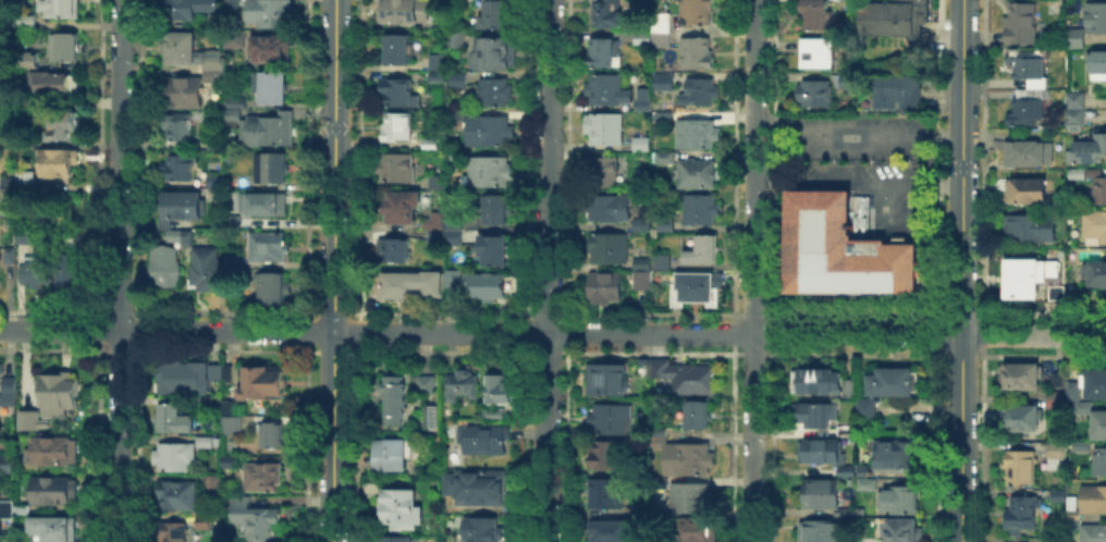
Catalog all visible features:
building: (848, 0)
building: (453, 1)
building: (62, 9)
building: (193, 9)
building: (695, 11)
building: (408, 12)
building: (271, 13)
building: (605, 13)
building: (819, 14)
building: (1094, 15)
building: (495, 16)
building: (888, 16)
building: (28, 20)
building: (660, 21)
building: (1021, 23)
building: (1073, 36)
building: (640, 37)
building: (659, 38)
building: (236, 41)
building: (455, 42)
building: (66, 49)
building: (600, 50)
building: (693, 50)
building: (183, 51)
building: (271, 51)
building: (402, 52)
building: (810, 52)
building: (497, 56)
building: (439, 63)
building: (1096, 63)
building: (1027, 65)
building: (212, 67)
building: (661, 74)
building: (438, 78)
building: (460, 81)
building: (850, 83)
building: (1, 84)
building: (56, 85)
building: (604, 87)
building: (271, 88)
building: (697, 90)
building: (900, 91)
building: (186, 94)
building: (398, 94)
building: (496, 94)
building: (809, 95)
building: (1073, 98)
building: (638, 99)
building: (237, 101)
road: (1102, 101)
building: (1024, 106)
building: (233, 112)
road: (1102, 114)
building: (660, 115)
building: (463, 118)
building: (1073, 118)
building: (232, 123)
road: (843, 123)
building: (602, 126)
building: (182, 128)
building: (272, 128)
building: (400, 128)
building: (63, 130)
building: (693, 132)
building: (490, 133)
road: (945, 137)
building: (639, 143)
building: (217, 145)
building: (1090, 146)
building: (432, 148)
building: (1024, 150)
building: (455, 156)
building: (662, 156)
building: (67, 167)
building: (397, 168)
building: (600, 168)
building: (183, 170)
building: (274, 171)
building: (693, 172)
building: (1077, 172)
building: (491, 173)
building: (33, 180)
building: (10, 182)
building: (218, 183)
building: (242, 185)
building: (438, 185)
building: (1025, 188)
building: (1097, 189)
building: (10, 198)
building: (266, 206)
building: (606, 207)
building: (697, 207)
building: (183, 209)
building: (405, 209)
road: (884, 210)
building: (500, 211)
building: (640, 222)
building: (663, 223)
building: (1095, 223)
building: (1031, 226)
building: (444, 232)
building: (652, 232)
building: (180, 238)
building: (28, 239)
building: (607, 246)
building: (702, 248)
building: (271, 249)
building: (834, 250)
building: (398, 252)
building: (9, 254)
building: (494, 254)
building: (14, 258)
building: (234, 260)
building: (660, 260)
building: (640, 262)
building: (73, 270)
road: (120, 270)
building: (207, 270)
road: (546, 270)
road: (962, 270)
road: (334, 271)
road: (754, 271)
building: (1094, 271)
building: (165, 272)
building: (40, 274)
building: (1025, 274)
building: (450, 276)
building: (640, 279)
building: (602, 285)
building: (696, 286)
building: (488, 287)
building: (275, 290)
building: (404, 290)
building: (1056, 292)
road: (481, 332)
road: (1034, 336)
building: (0, 367)
building: (661, 369)
building: (213, 370)
building: (225, 370)
building: (1019, 373)
building: (181, 374)
building: (1056, 378)
building: (815, 379)
building: (890, 379)
building: (261, 380)
building: (609, 380)
building: (695, 380)
building: (1093, 382)
building: (8, 383)
building: (847, 385)
building: (427, 386)
building: (464, 386)
building: (1071, 389)
building: (57, 392)
building: (502, 392)
building: (8, 396)
building: (1053, 397)
building: (398, 401)
building: (205, 405)
building: (864, 405)
building: (1082, 405)
building: (814, 411)
building: (1019, 416)
building: (495, 417)
building: (698, 417)
building: (173, 418)
building: (30, 419)
building: (432, 420)
building: (615, 420)
building: (230, 422)
building: (1098, 422)
building: (845, 430)
building: (270, 432)
building: (582, 436)
building: (661, 439)
building: (487, 440)
building: (204, 441)
building: (1080, 444)
building: (50, 448)
building: (819, 448)
building: (1055, 448)
building: (895, 452)
building: (173, 454)
building: (394, 457)
building: (606, 457)
building: (229, 459)
building: (1098, 459)
building: (7, 461)
building: (691, 461)
building: (1018, 466)
building: (861, 468)
building: (844, 469)
building: (261, 473)
building: (212, 480)
building: (865, 482)
building: (661, 484)
building: (481, 488)
building: (53, 489)
building: (820, 492)
building: (175, 494)
building: (1056, 494)
building: (609, 495)
building: (1092, 496)
building: (900, 497)
building: (693, 500)
building: (1069, 501)
building: (7, 507)
building: (22, 507)
building: (404, 509)
building: (846, 510)
building: (1019, 512)
building: (1071, 513)
building: (206, 518)
building: (257, 519)
building: (1071, 521)
building: (53, 527)
building: (0, 529)
building: (900, 529)
building: (173, 530)
building: (484, 530)
building: (816, 530)
building: (610, 532)
building: (1092, 532)
building: (700, 533)
building: (1054, 540)
building: (403, 541)

